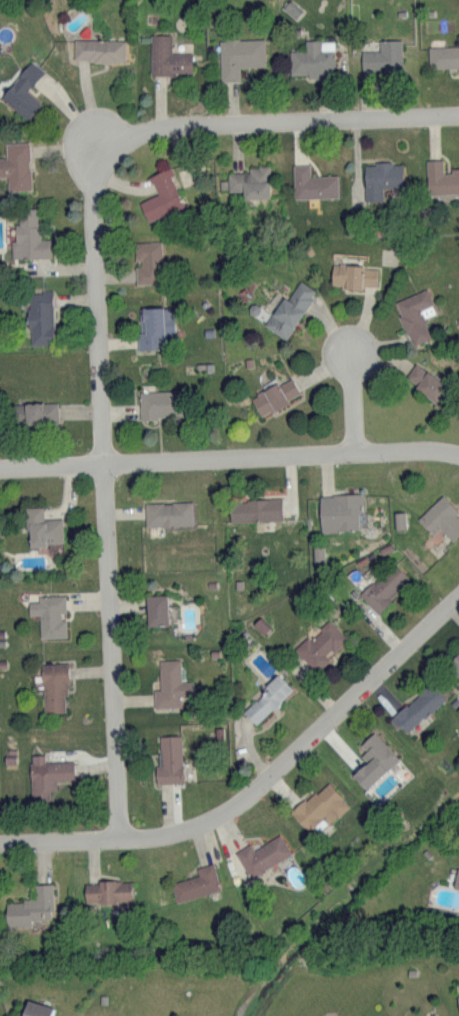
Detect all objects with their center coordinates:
building: (98, 49)
building: (240, 55)
building: (383, 55)
building: (168, 56)
building: (444, 56)
building: (314, 58)
building: (23, 90)
road: (275, 121)
building: (16, 165)
building: (381, 177)
building: (441, 177)
building: (251, 181)
building: (313, 182)
building: (162, 195)
building: (28, 235)
building: (148, 261)
building: (354, 275)
building: (290, 309)
building: (415, 314)
building: (40, 316)
building: (155, 325)
building: (426, 381)
road: (356, 395)
building: (274, 396)
building: (159, 403)
building: (35, 412)
road: (229, 453)
road: (105, 497)
building: (255, 509)
building: (339, 511)
building: (168, 513)
building: (441, 517)
building: (43, 527)
building: (385, 586)
building: (157, 608)
building: (50, 614)
building: (321, 644)
building: (455, 662)
building: (170, 684)
building: (54, 686)
building: (267, 699)
building: (418, 707)
building: (170, 759)
building: (374, 759)
building: (47, 774)
road: (259, 782)
building: (320, 805)
building: (263, 854)
building: (457, 879)
building: (196, 883)
building: (108, 891)
building: (30, 907)
building: (458, 999)
building: (36, 1009)
building: (433, 1014)

